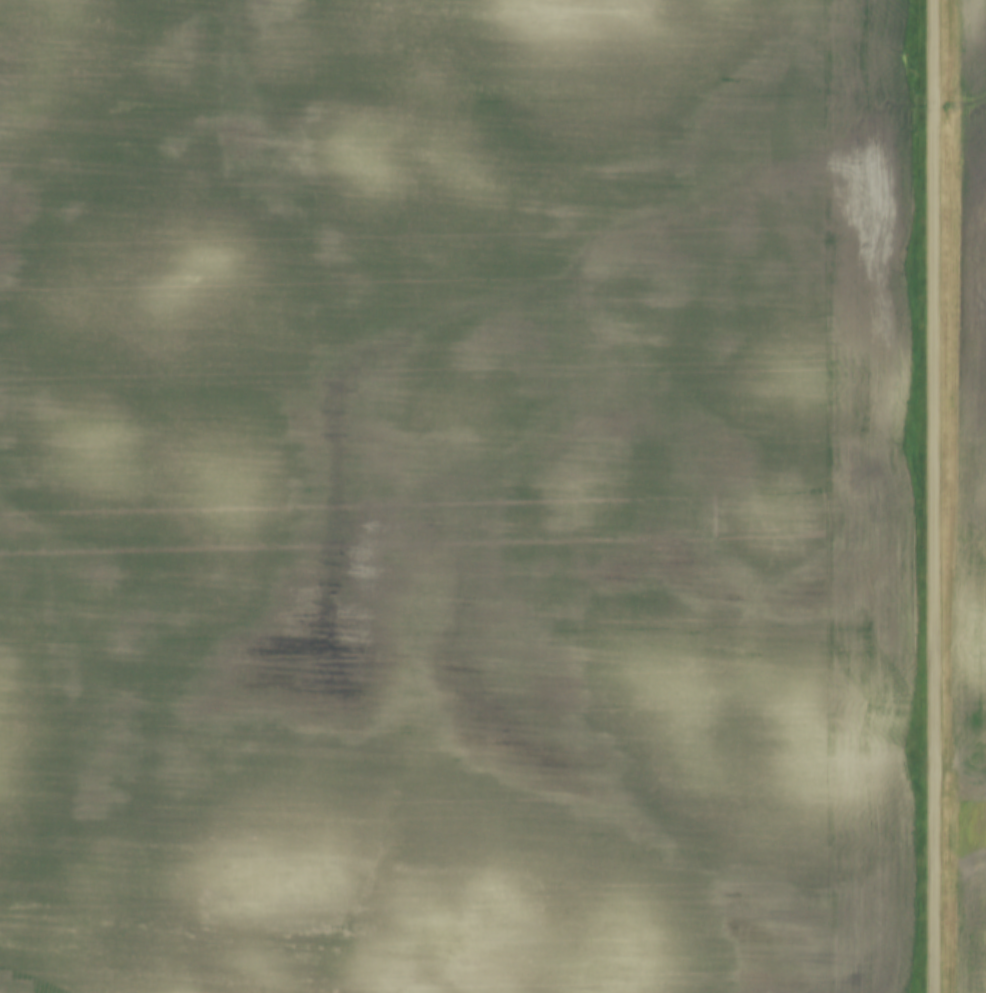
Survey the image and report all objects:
road: (935, 496)

